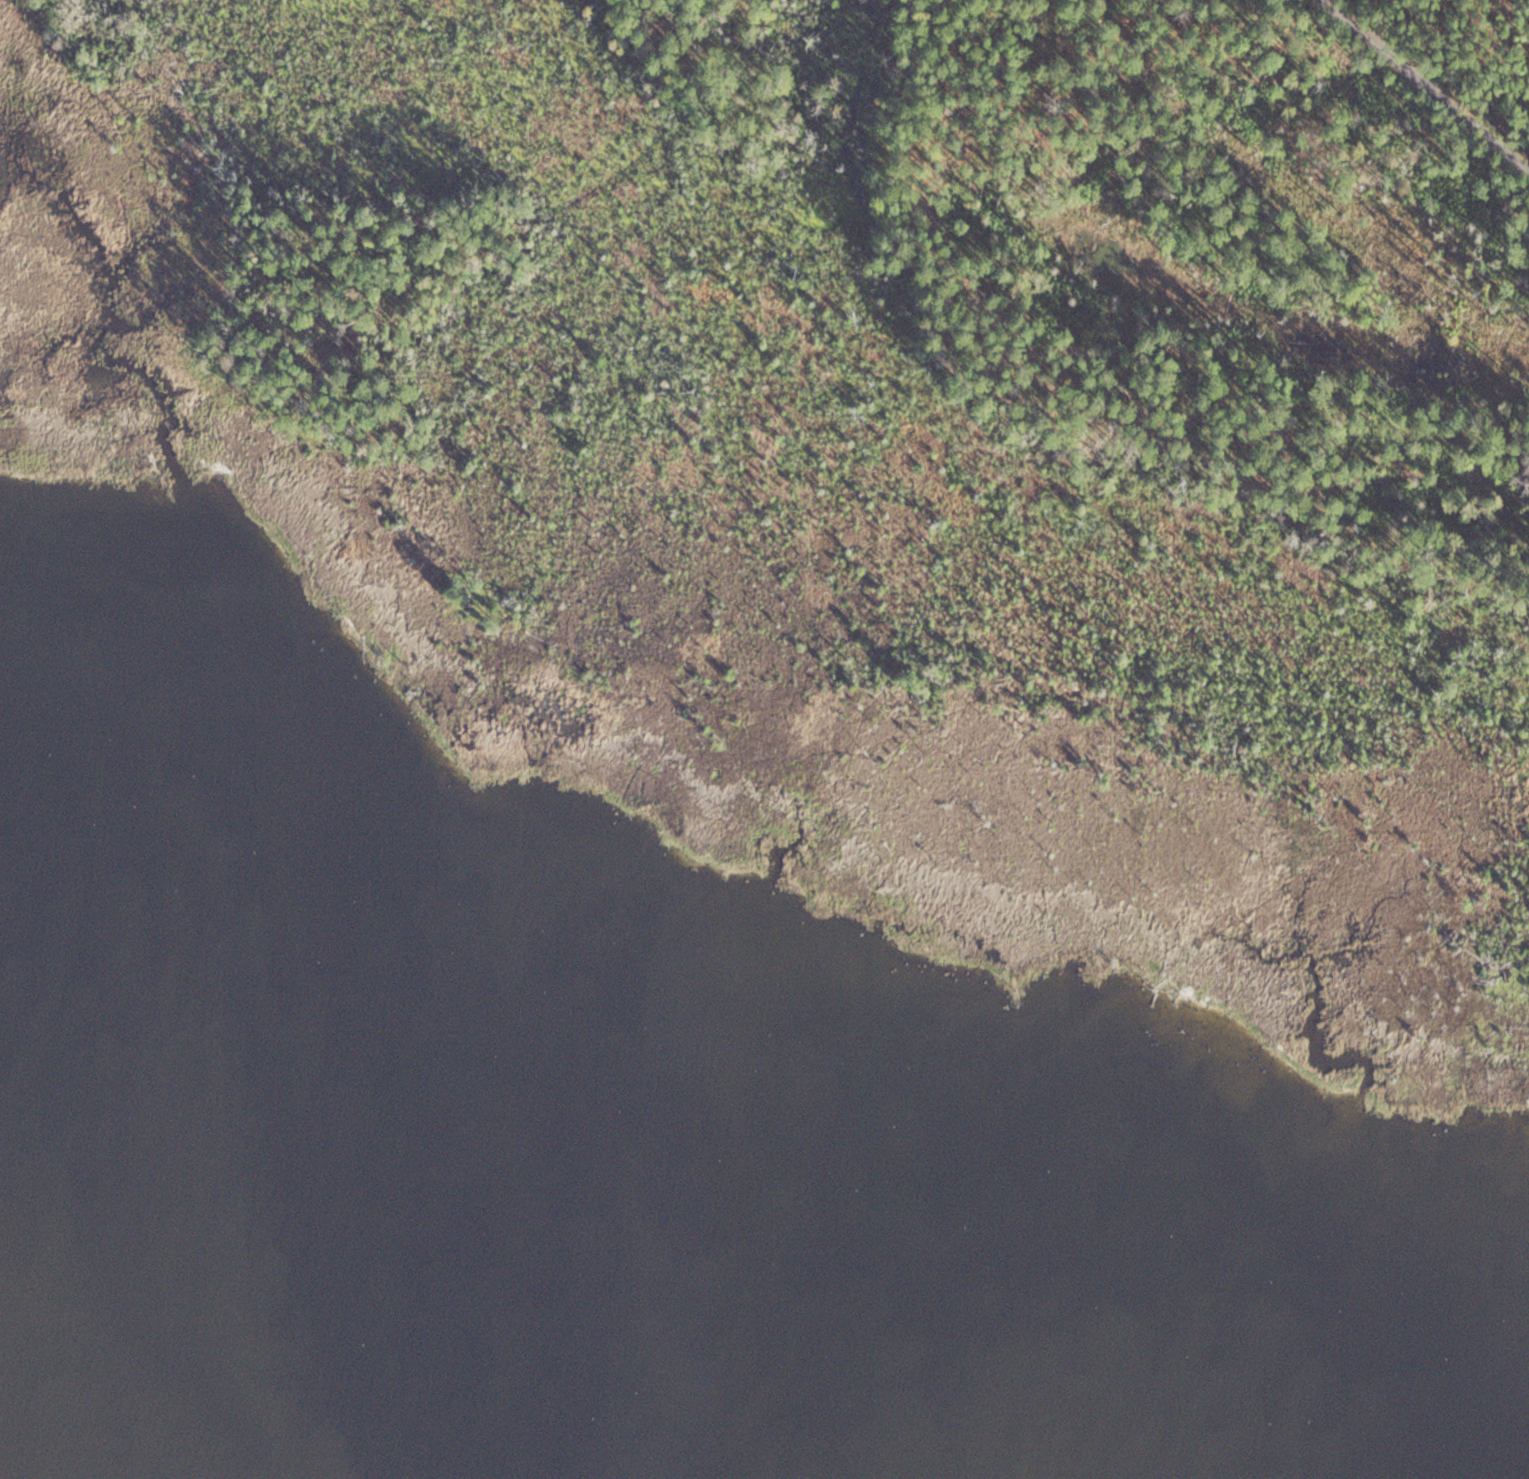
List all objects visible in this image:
road: (1427, 84)

